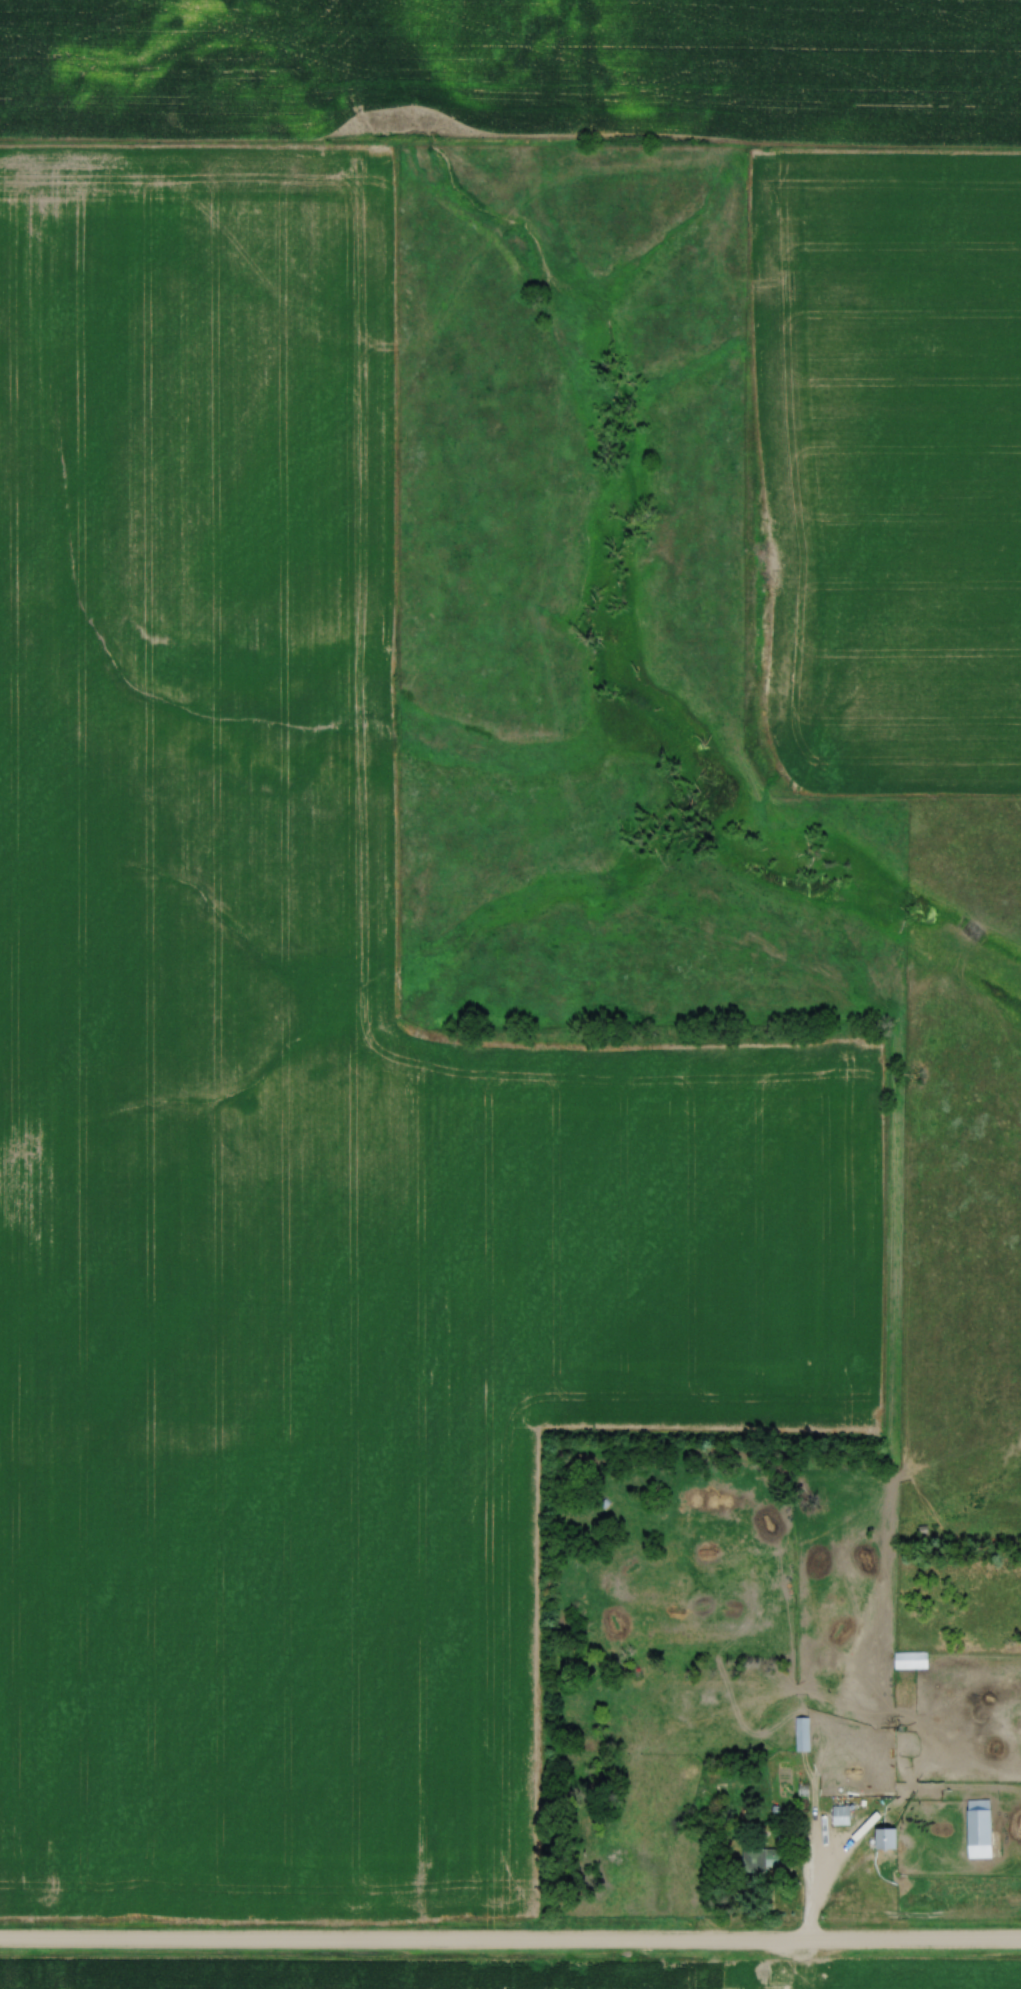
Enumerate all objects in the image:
building: (911, 1660)
building: (802, 1733)
building: (842, 1814)
building: (980, 1828)
building: (888, 1839)
building: (762, 1859)
road: (817, 1880)
road: (510, 1938)

